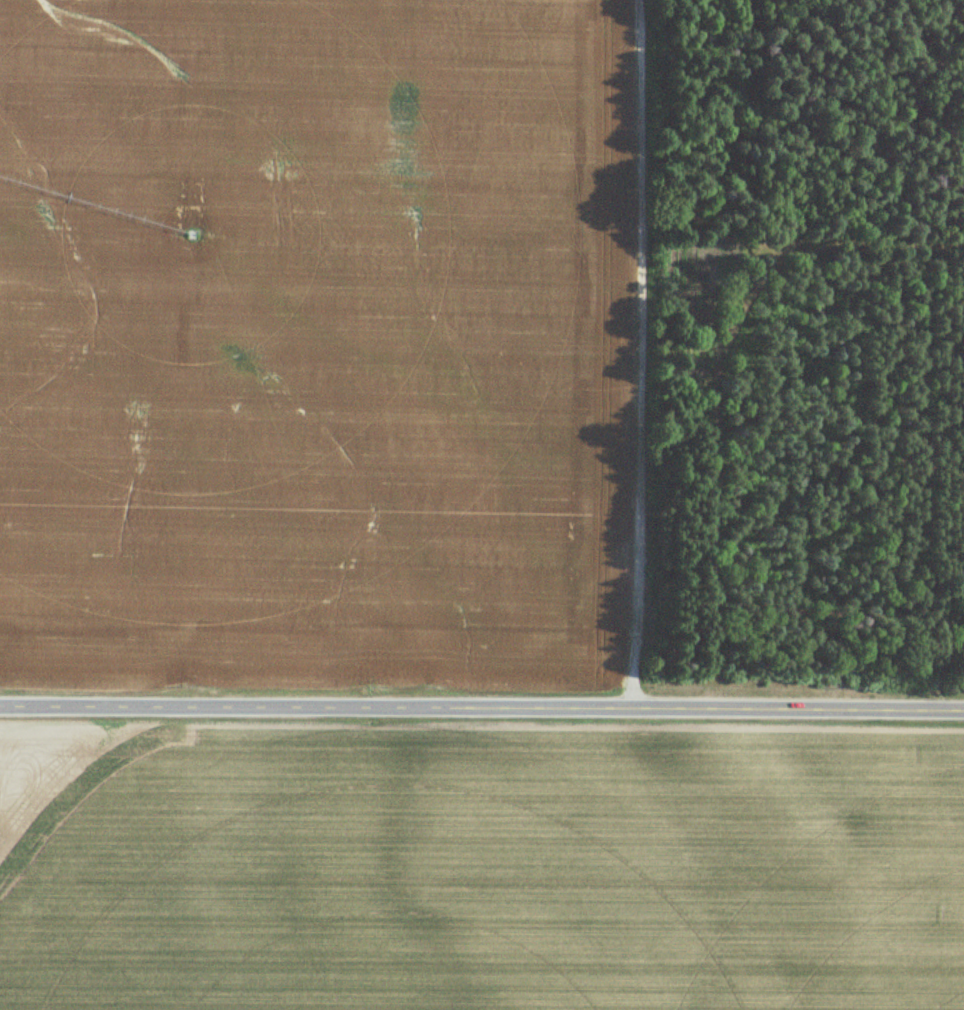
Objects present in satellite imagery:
road: (482, 708)

